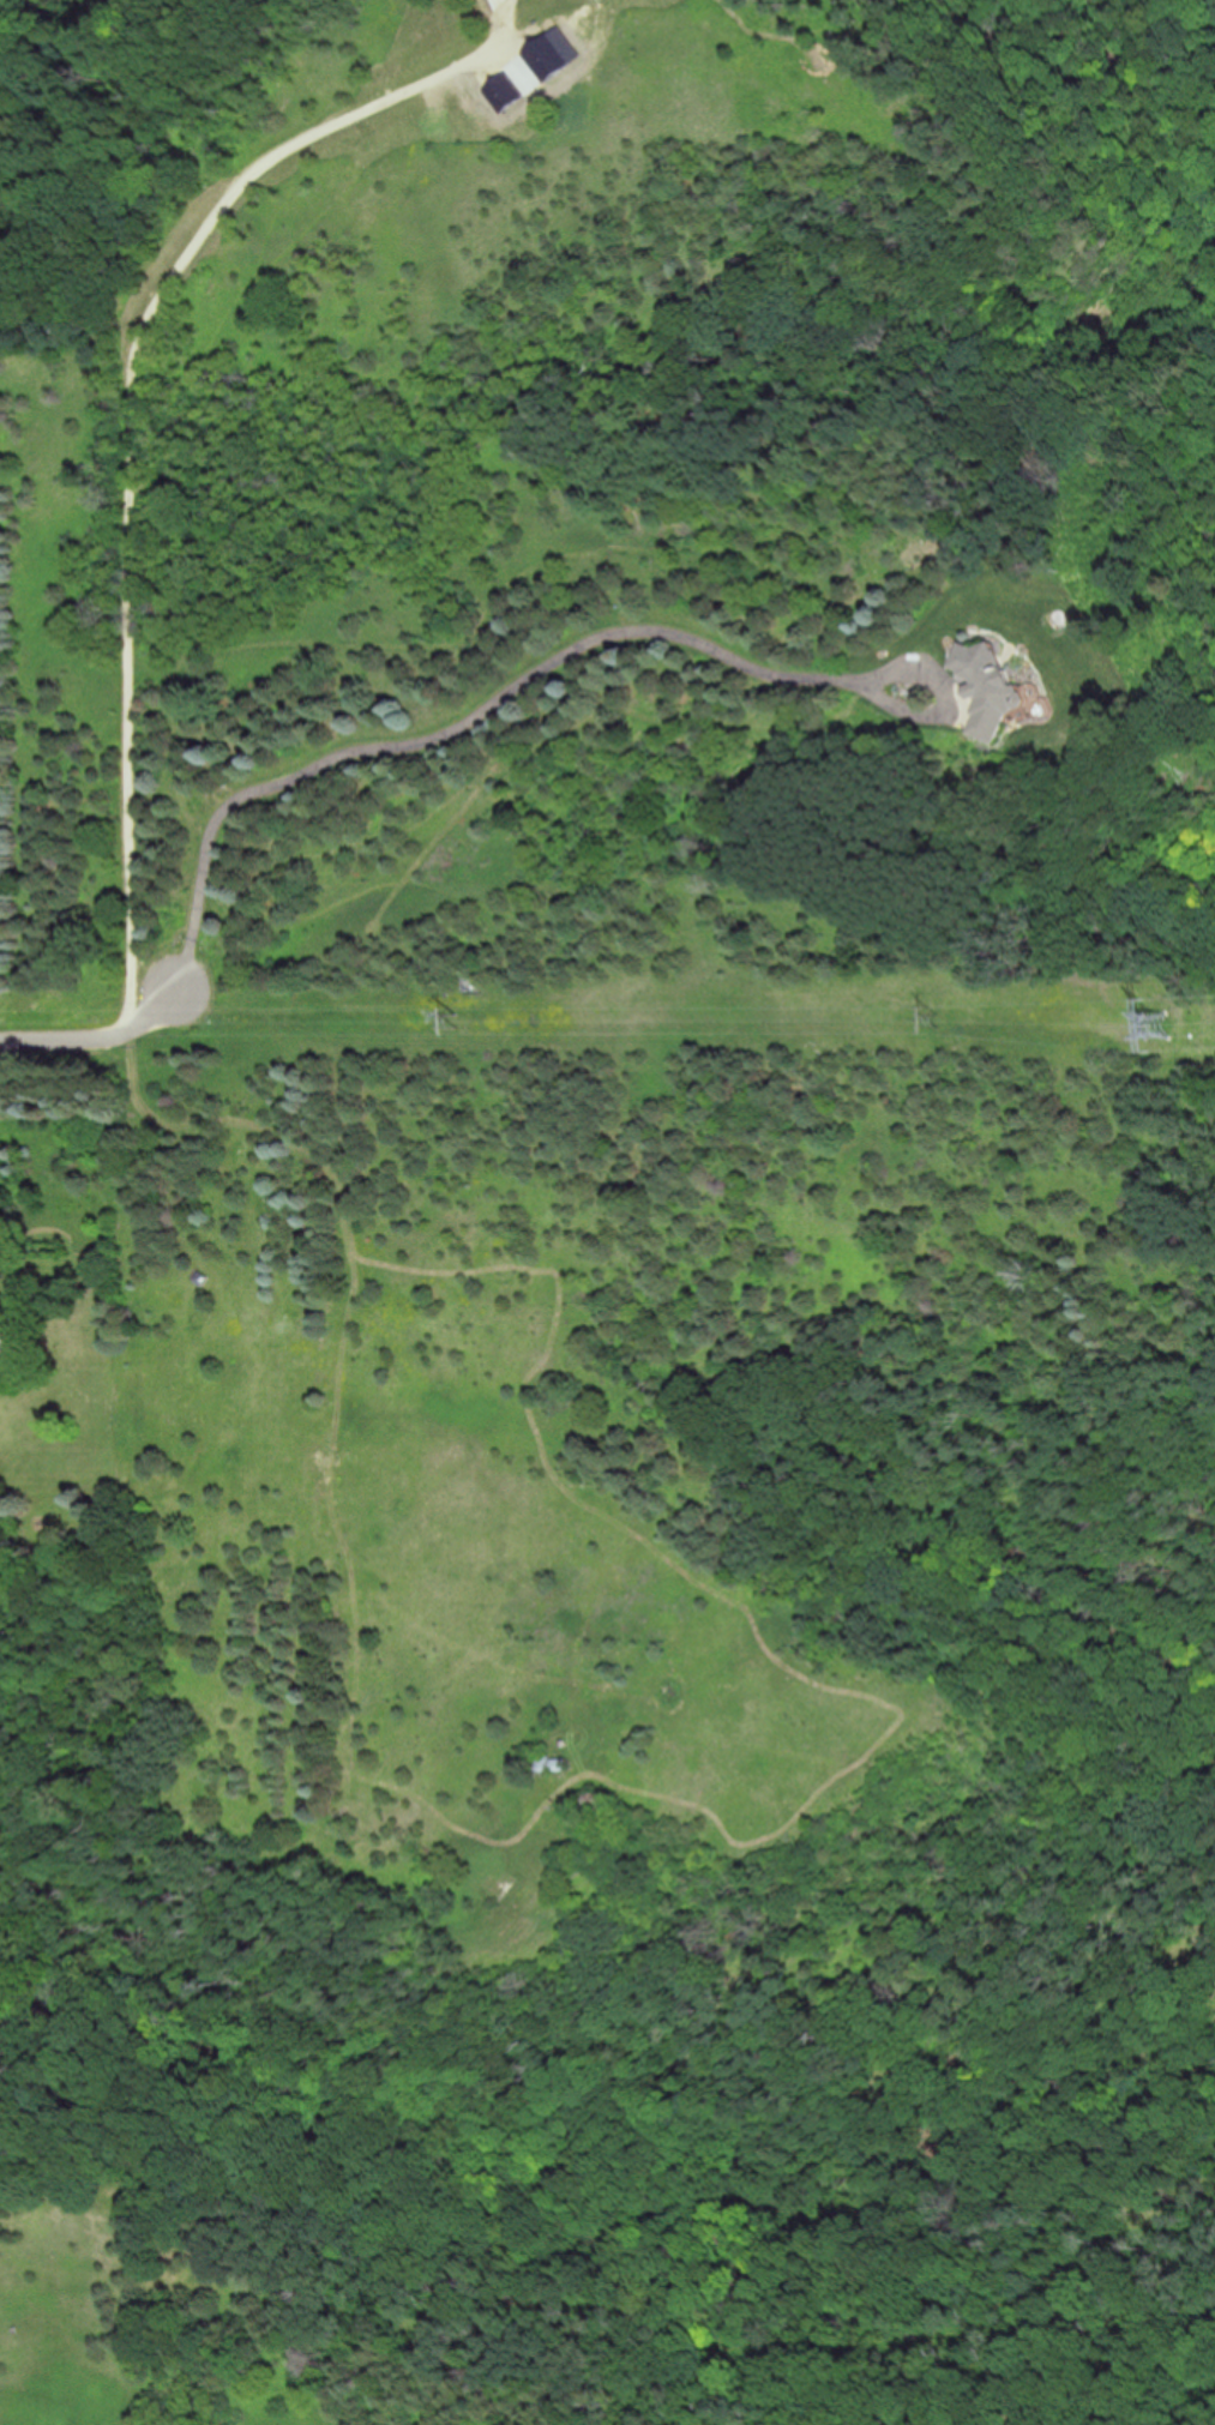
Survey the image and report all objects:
road: (128, 417)
building: (987, 690)
road: (501, 699)
power tower: (459, 1019)
power tower: (940, 1021)
power tower: (1159, 1025)
road: (97, 1030)
building: (5, 1344)
building: (552, 1763)
building: (599, 1805)

